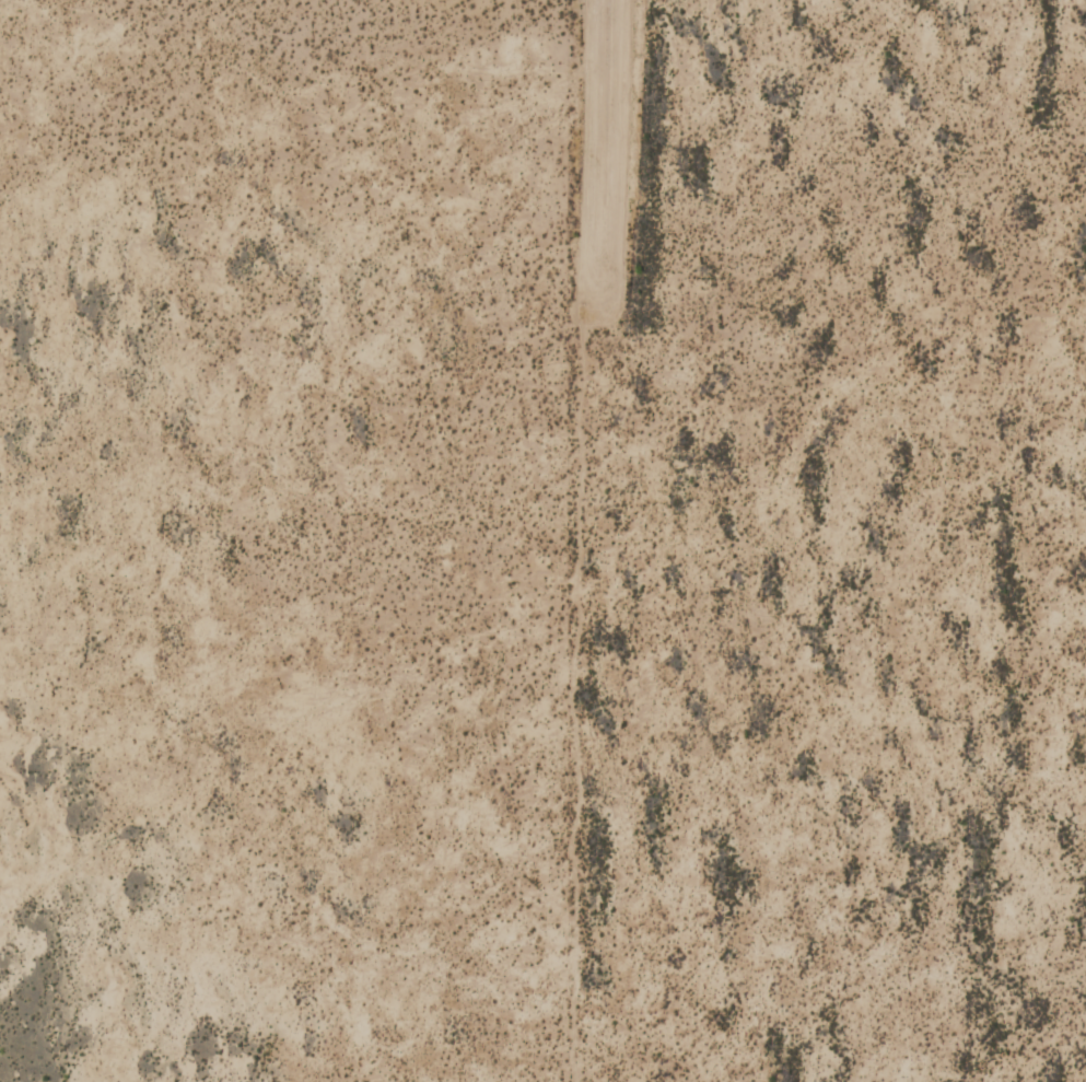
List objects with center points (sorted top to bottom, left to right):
airport runway: (597, 158)

